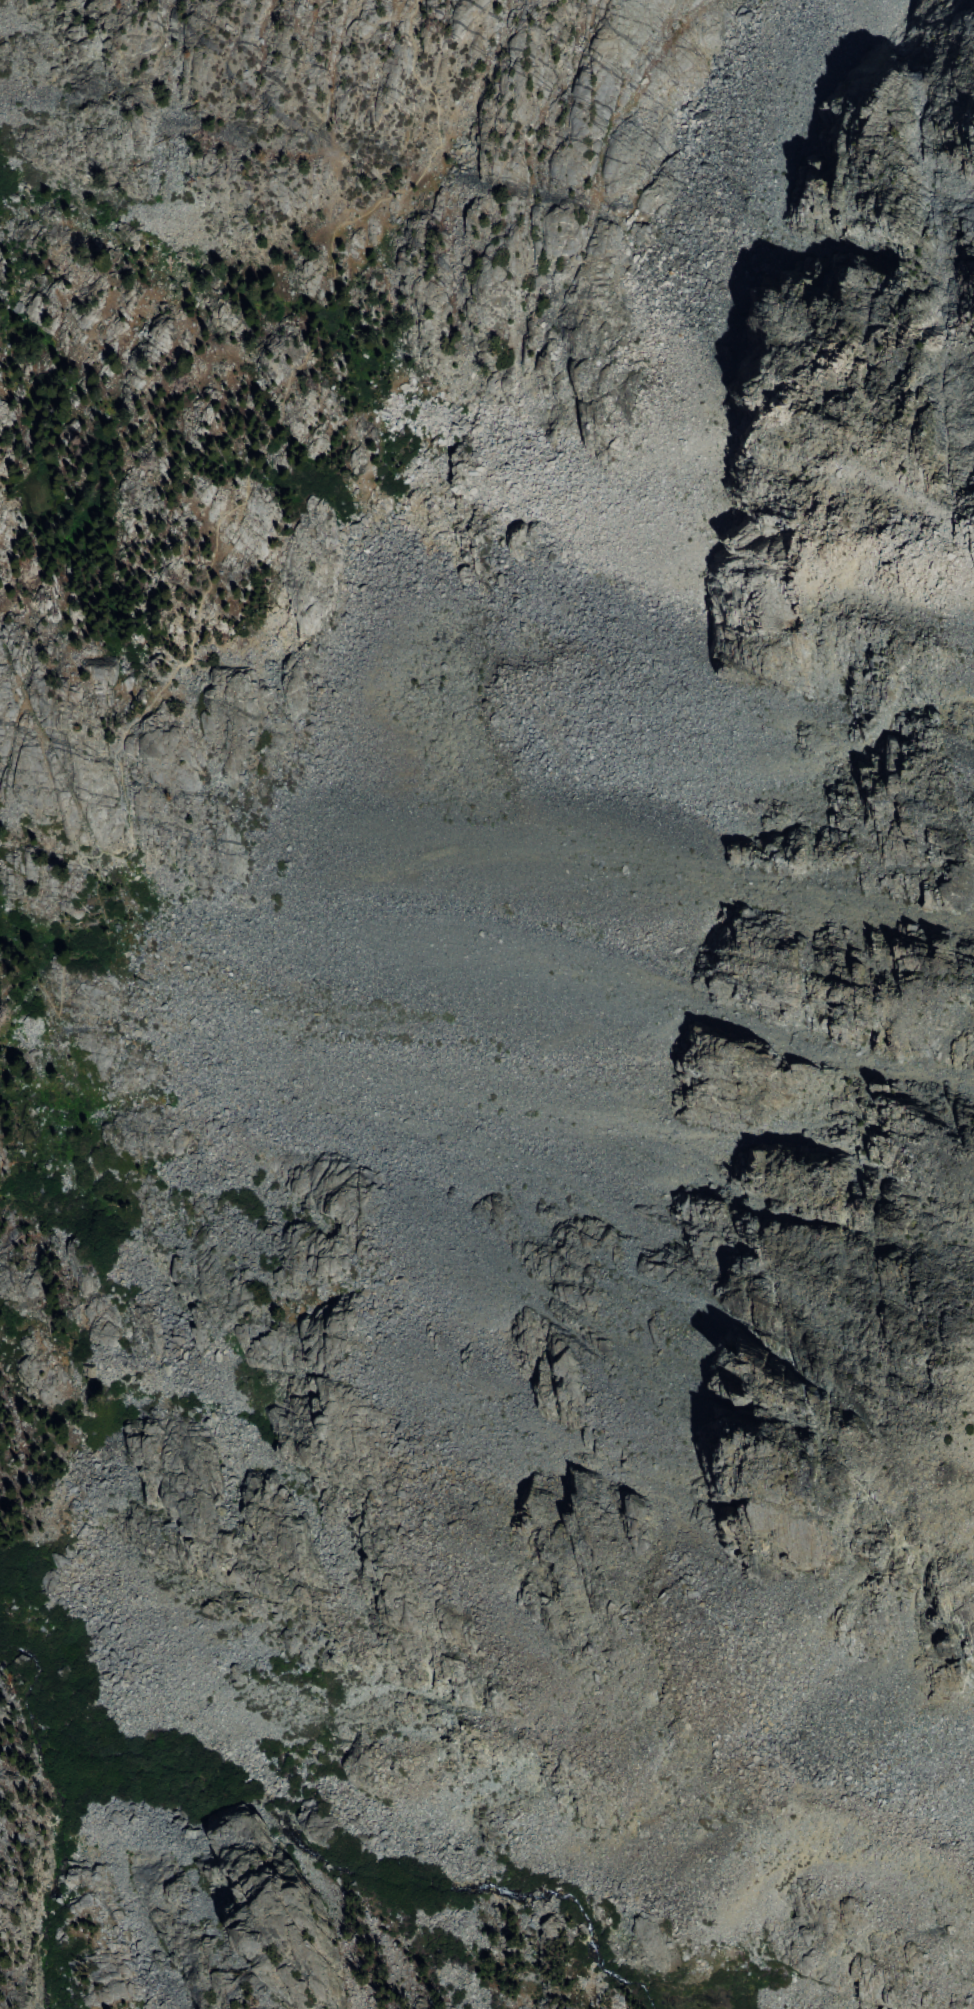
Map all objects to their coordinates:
road: (209, 565)

